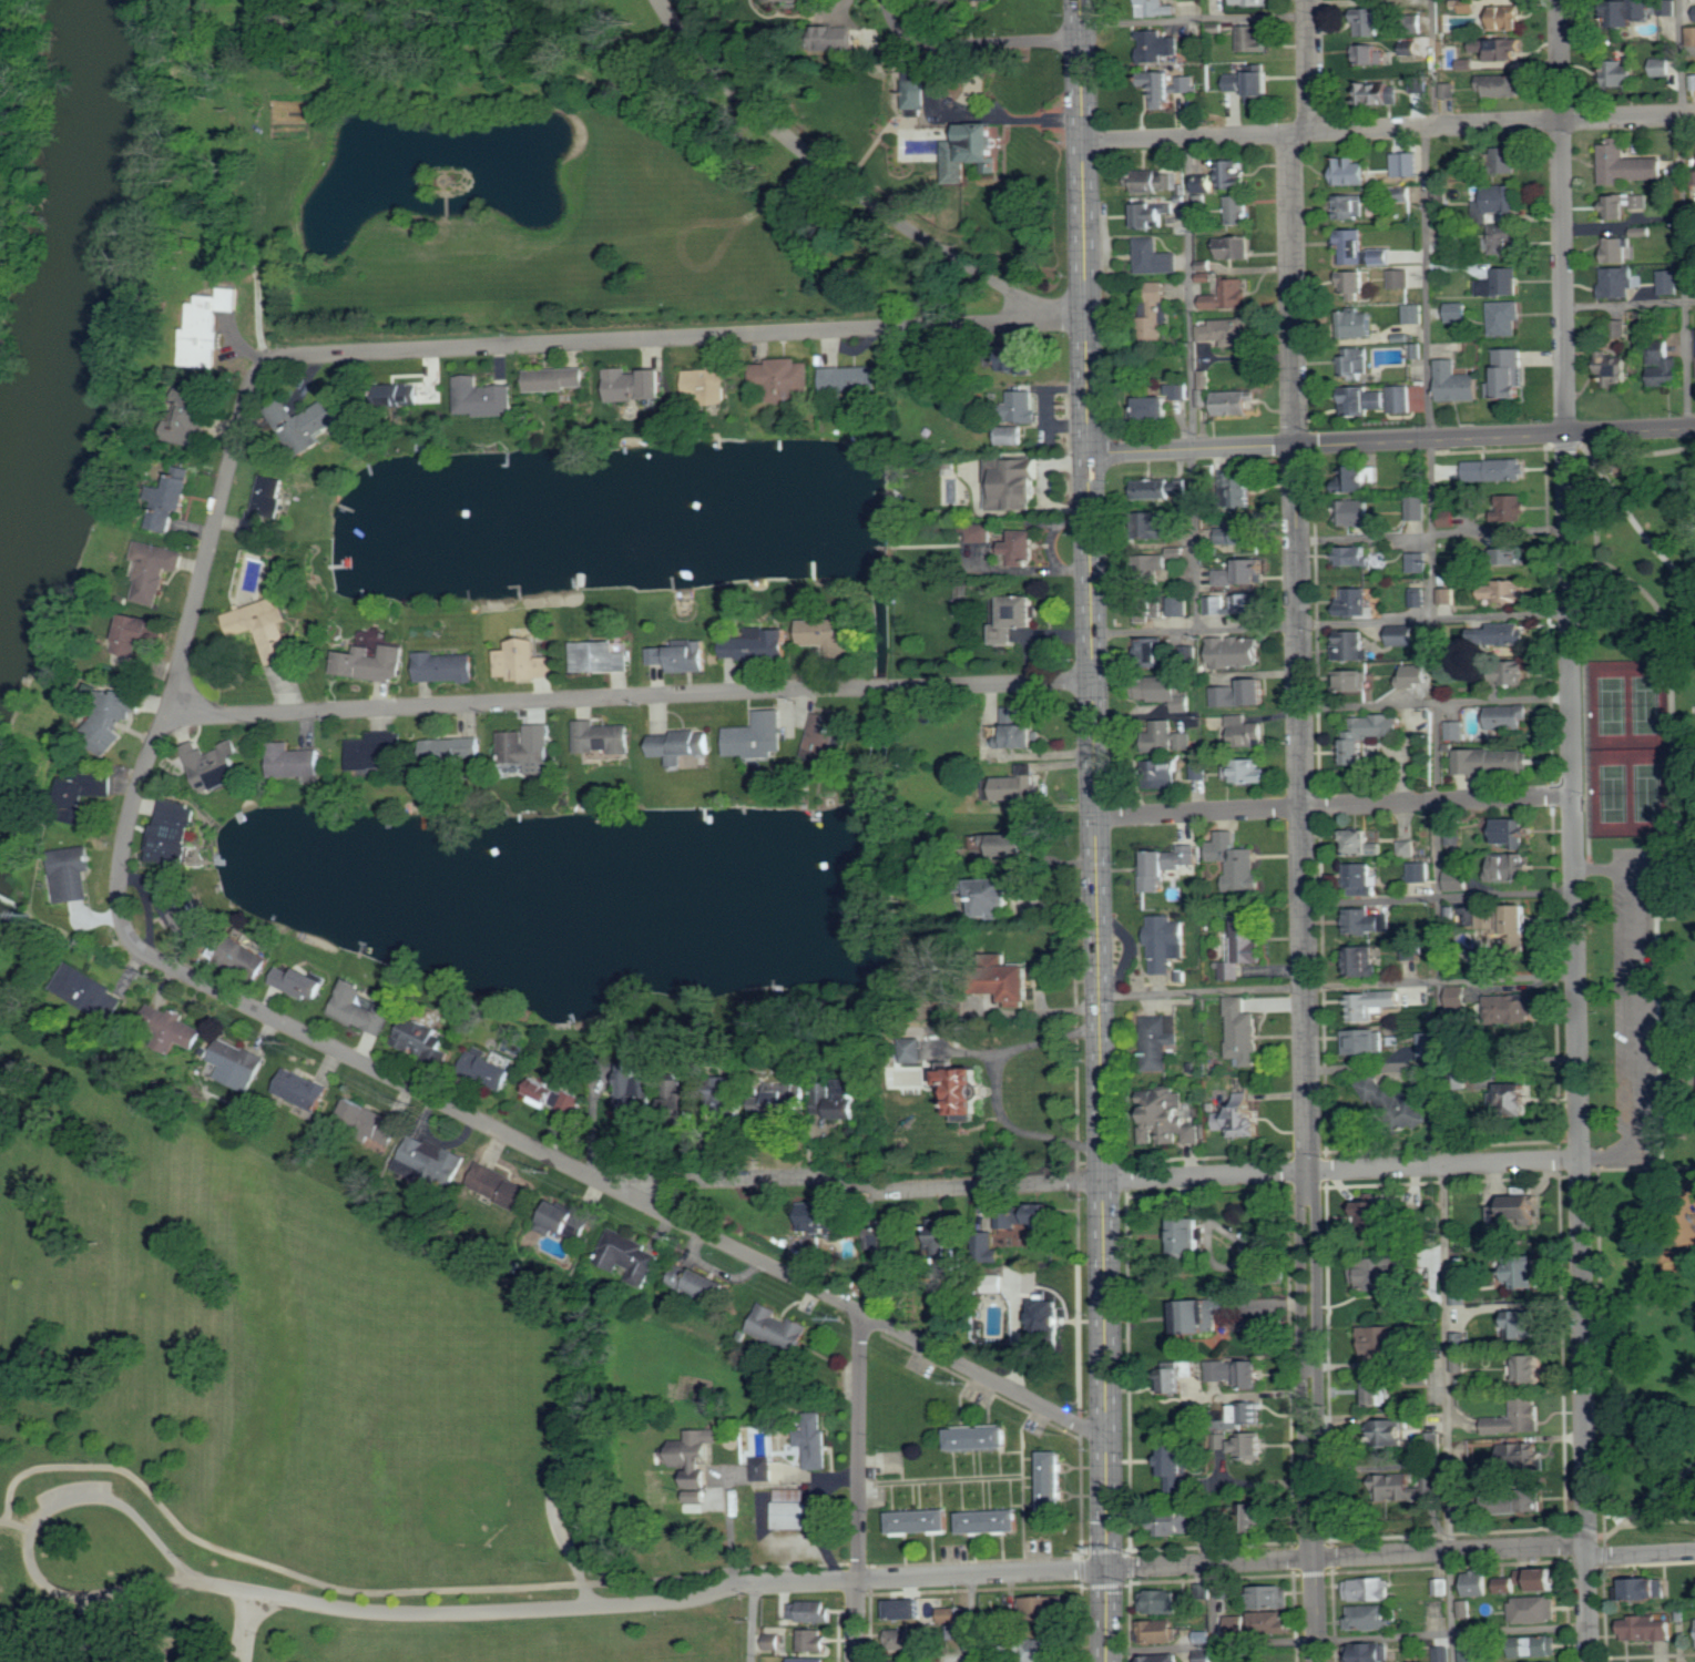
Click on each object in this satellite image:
building: (782, 0)
building: (1250, 2)
building: (1466, 6)
building: (1668, 7)
building: (1156, 8)
building: (1634, 9)
building: (1507, 18)
road: (1195, 20)
building: (1370, 22)
building: (1692, 35)
building: (1254, 38)
building: (837, 39)
road: (971, 41)
building: (1157, 45)
building: (1411, 47)
building: (1501, 50)
building: (1371, 54)
road: (1433, 63)
building: (1468, 64)
building: (1662, 67)
building: (1624, 72)
building: (1237, 82)
building: (1693, 82)
building: (1186, 83)
building: (1417, 84)
building: (1260, 85)
building: (1501, 85)
building: (1160, 86)
building: (916, 90)
building: (1380, 94)
road: (974, 116)
road: (1388, 129)
building: (972, 151)
road: (1082, 157)
building: (1471, 160)
building: (1507, 160)
building: (1628, 165)
building: (1351, 172)
road: (835, 174)
building: (1233, 176)
building: (1156, 181)
building: (1208, 184)
building: (1440, 193)
building: (1502, 198)
building: (1623, 205)
building: (1349, 207)
building: (1238, 210)
road: (1684, 213)
building: (1150, 215)
road: (1562, 216)
building: (1642, 232)
building: (1504, 237)
building: (1451, 241)
building: (1234, 247)
building: (1351, 247)
building: (1615, 249)
building: (1381, 256)
building: (1155, 257)
building: (1400, 278)
building: (1617, 282)
building: (1670, 282)
river: (83, 283)
building: (1501, 283)
building: (1351, 285)
road: (1188, 293)
building: (1229, 296)
road: (1628, 303)
building: (1153, 312)
building: (1458, 312)
building: (1413, 314)
road: (1063, 316)
building: (1503, 318)
building: (1359, 324)
building: (210, 326)
building: (1616, 328)
building: (1226, 332)
road: (477, 347)
building: (1415, 351)
building: (1018, 358)
building: (1355, 361)
building: (1663, 365)
building: (1613, 371)
building: (1508, 375)
building: (555, 378)
building: (783, 378)
building: (851, 378)
building: (1206, 379)
building: (1456, 383)
building: (635, 384)
building: (707, 384)
building: (392, 392)
building: (482, 397)
building: (1400, 399)
building: (1362, 401)
building: (1163, 402)
building: (1234, 402)
building: (1023, 406)
building: (193, 419)
building: (303, 419)
building: (1011, 435)
road: (1391, 440)
road: (1582, 445)
road: (1644, 453)
building: (1495, 470)
building: (1628, 476)
building: (1360, 478)
building: (1021, 481)
building: (1160, 488)
building: (1243, 492)
building: (170, 501)
building: (265, 504)
building: (1416, 508)
building: (1511, 509)
building: (1355, 513)
building: (1447, 519)
building: (1151, 524)
road: (1637, 528)
building: (979, 532)
road: (1432, 532)
building: (1242, 533)
building: (1020, 547)
building: (1176, 552)
building: (1513, 553)
building: (1355, 557)
building: (1418, 562)
building: (1153, 568)
building: (153, 570)
building: (1252, 571)
building: (1226, 578)
building: (1509, 592)
building: (1446, 595)
building: (1418, 600)
building: (1355, 603)
building: (1235, 604)
building: (1178, 606)
building: (1147, 608)
building: (1015, 618)
road: (1293, 624)
building: (263, 628)
building: (142, 630)
building: (1509, 634)
building: (826, 635)
building: (1403, 635)
building: (758, 645)
building: (1351, 646)
building: (1153, 651)
building: (1235, 652)
building: (682, 656)
building: (599, 657)
building: (523, 661)
building: (371, 663)
building: (443, 667)
building: (1514, 673)
building: (1415, 675)
building: (1351, 680)
building: (1004, 682)
building: (1166, 692)
road: (636, 695)
building: (1243, 695)
road: (1436, 701)
building: (1508, 717)
building: (1018, 730)
building: (1456, 731)
building: (1244, 732)
building: (1369, 734)
building: (757, 736)
building: (826, 736)
building: (602, 737)
building: (1168, 737)
road: (1673, 742)
building: (683, 745)
park: (1630, 747)
building: (528, 748)
building: (375, 750)
building: (451, 751)
building: (295, 761)
building: (1493, 762)
building: (215, 766)
building: (1197, 771)
building: (1248, 772)
building: (1165, 773)
building: (1015, 788)
building: (86, 793)
road: (1334, 805)
road: (1586, 813)
road: (1303, 826)
building: (172, 832)
building: (1512, 833)
building: (1453, 837)
building: (1360, 844)
building: (1011, 847)
building: (1407, 848)
building: (1235, 861)
building: (1165, 866)
road: (1603, 867)
building: (1510, 868)
building: (74, 871)
building: (1419, 873)
building: (1361, 878)
building: (1457, 880)
road: (1437, 895)
road: (1439, 895)
building: (995, 898)
building: (181, 915)
building: (1362, 920)
building: (1505, 924)
building: (1164, 940)
building: (1243, 945)
building: (247, 957)
building: (1361, 960)
park: (1635, 975)
building: (1002, 980)
building: (299, 982)
road: (1337, 983)
road: (1099, 988)
building: (88, 991)
building: (1458, 997)
building: (1371, 1003)
building: (361, 1008)
building: (1510, 1008)
road: (1634, 1010)
building: (1242, 1030)
building: (177, 1031)
building: (421, 1038)
building: (1158, 1040)
building: (1362, 1041)
building: (1428, 1046)
road: (1576, 1048)
building: (910, 1049)
road: (1441, 1061)
building: (237, 1062)
building: (489, 1068)
building: (967, 1087)
building: (300, 1088)
building: (637, 1088)
road: (995, 1088)
building: (735, 1089)
building: (1376, 1089)
building: (553, 1093)
building: (1512, 1094)
building: (787, 1097)
building: (675, 1098)
building: (840, 1098)
building: (1240, 1117)
building: (1167, 1118)
building: (370, 1120)
road: (501, 1131)
building: (428, 1155)
road: (1609, 1155)
road: (1637, 1168)
road: (1095, 1181)
building: (506, 1187)
building: (1517, 1207)
building: (1383, 1214)
building: (1027, 1216)
building: (563, 1217)
building: (821, 1217)
building: (884, 1234)
building: (1188, 1235)
building: (946, 1238)
building: (634, 1260)
building: (877, 1270)
building: (1385, 1270)
building: (1525, 1271)
building: (698, 1282)
building: (1459, 1295)
building: (1195, 1315)
building: (1048, 1316)
building: (1524, 1324)
building: (778, 1327)
building: (1380, 1340)
building: (1460, 1340)
road: (1601, 1350)
building: (1459, 1365)
building: (1529, 1369)
building: (1237, 1372)
building: (1177, 1376)
building: (1381, 1390)
building: (1247, 1411)
building: (1518, 1417)
park: (289, 1421)
building: (1390, 1430)
building: (980, 1436)
building: (814, 1439)
building: (1252, 1444)
building: (695, 1446)
building: (1478, 1450)
building: (1520, 1455)
building: (1176, 1459)
building: (762, 1468)
building: (1460, 1474)
building: (698, 1478)
building: (1053, 1479)
building: (1175, 1483)
building: (1401, 1486)
road: (858, 1488)
building: (696, 1496)
road: (1650, 1498)
building: (1523, 1501)
road: (9, 1502)
building: (790, 1508)
building: (1252, 1513)
building: (1204, 1515)
road: (1614, 1515)
building: (921, 1520)
building: (991, 1520)
road: (1657, 1520)
building: (1174, 1522)
road: (726, 1528)
road: (1232, 1543)
road: (29, 1553)
road: (940, 1576)
building: (1526, 1576)
building: (1549, 1579)
building: (1478, 1583)
building: (1509, 1584)
building: (1441, 1587)
building: (1646, 1588)
building: (1369, 1589)
road: (413, 1590)
building: (1272, 1597)
building: (1162, 1601)
building: (1045, 1607)
building: (907, 1609)
building: (1466, 1609)
building: (1535, 1609)
building: (809, 1611)
road: (1212, 1612)
building: (950, 1615)
building: (1369, 1617)
road: (972, 1618)
building: (1270, 1622)
road: (754, 1623)
building: (1237, 1624)
road: (244, 1625)
building: (1646, 1629)
building: (1158, 1631)
building: (1203, 1636)
road: (1347, 1636)
building: (899, 1639)
building: (813, 1640)
building: (1540, 1645)
building: (1041, 1650)
building: (1367, 1652)
building: (1469, 1653)
building: (1443, 1654)
building: (1204, 1655)
building: (1161, 1658)
building: (809, 1660)
building: (902, 1661)

